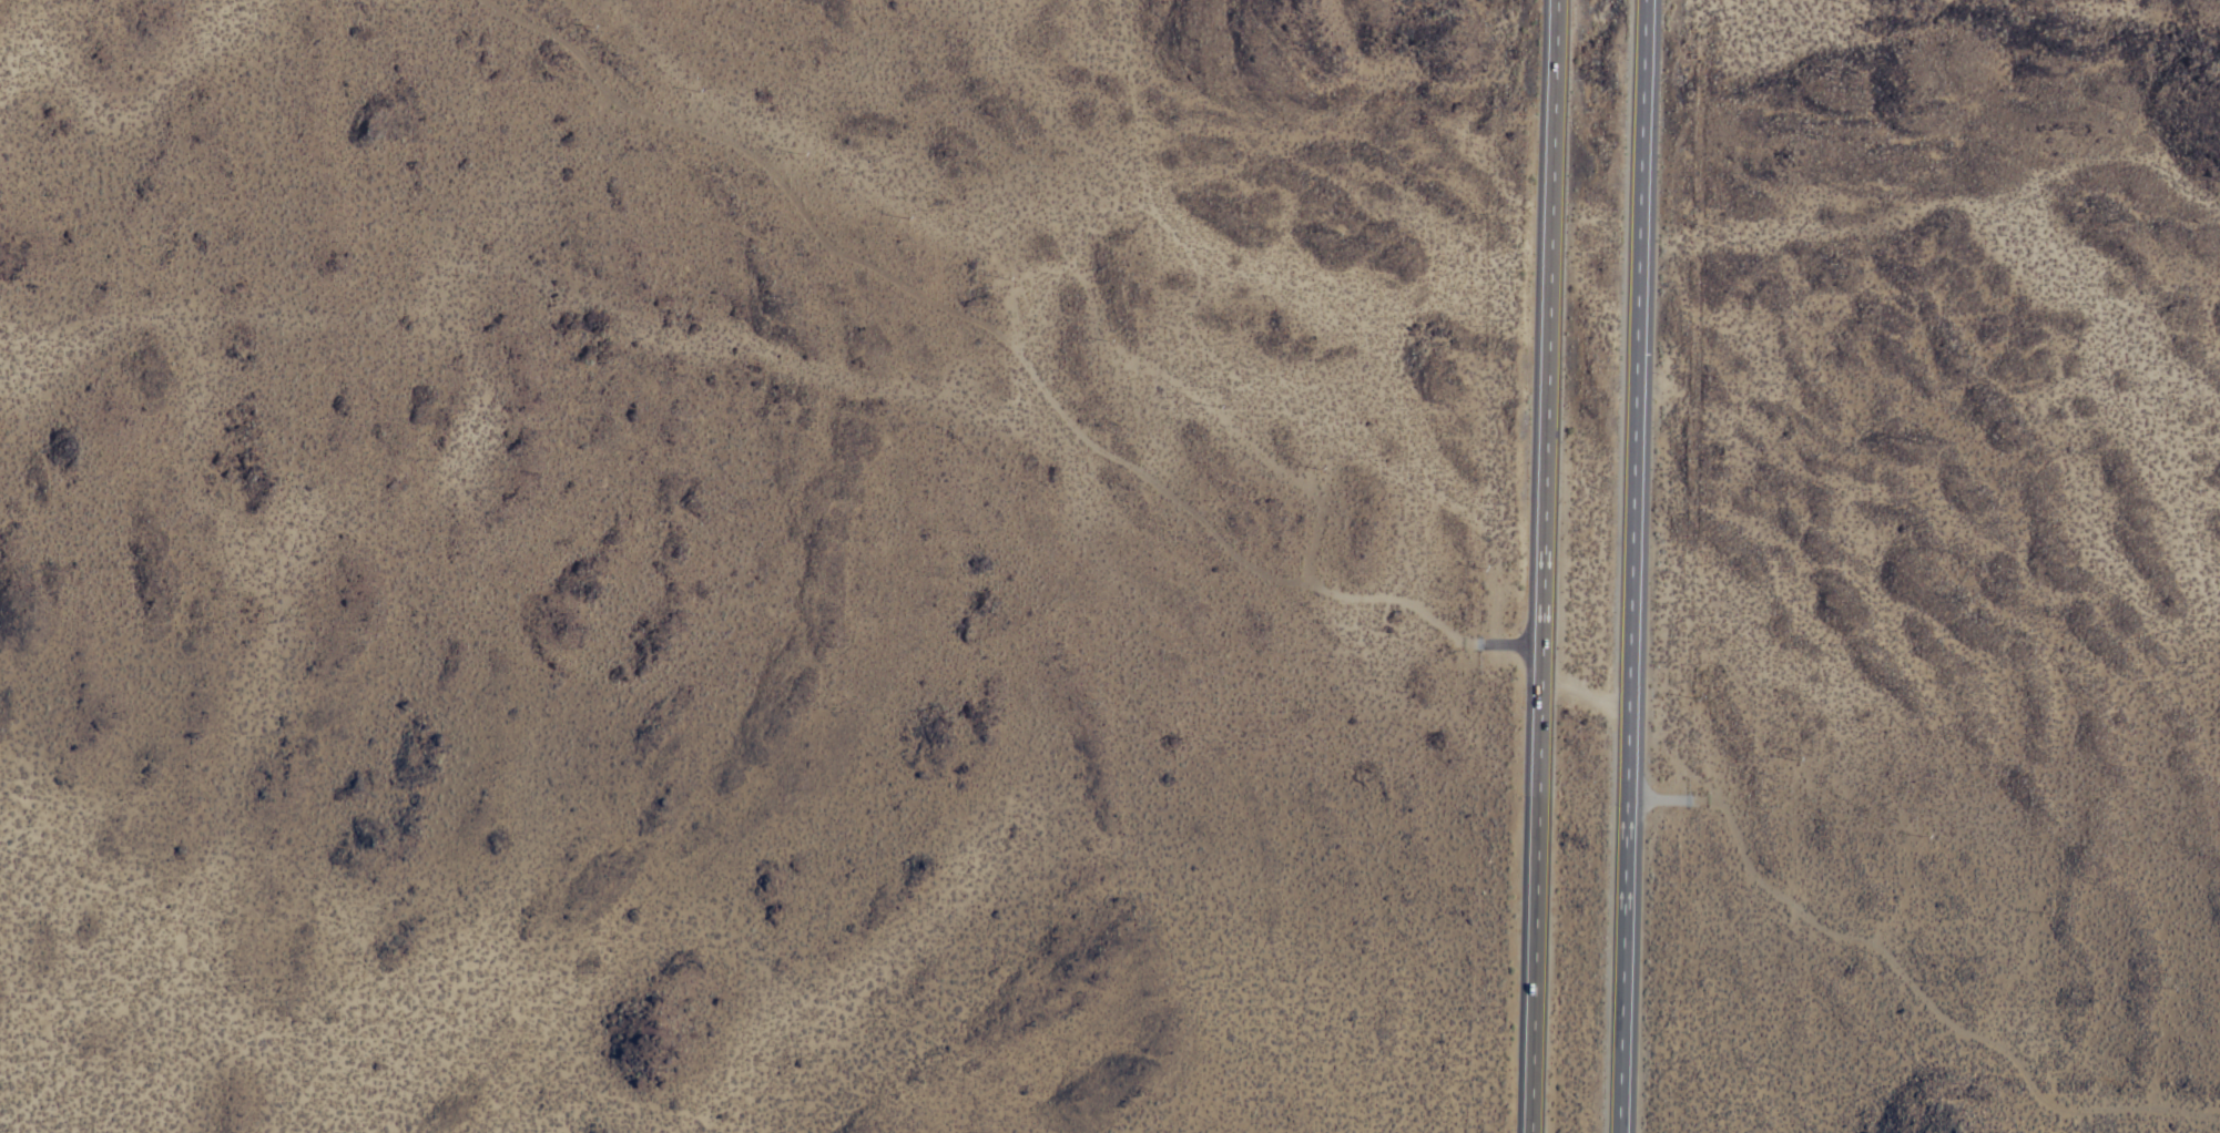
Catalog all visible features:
road: (1549, 324)
road: (977, 335)
road: (1632, 565)
road: (1510, 645)
road: (1585, 690)
road: (1666, 797)
road: (1536, 889)
road: (1932, 1011)

